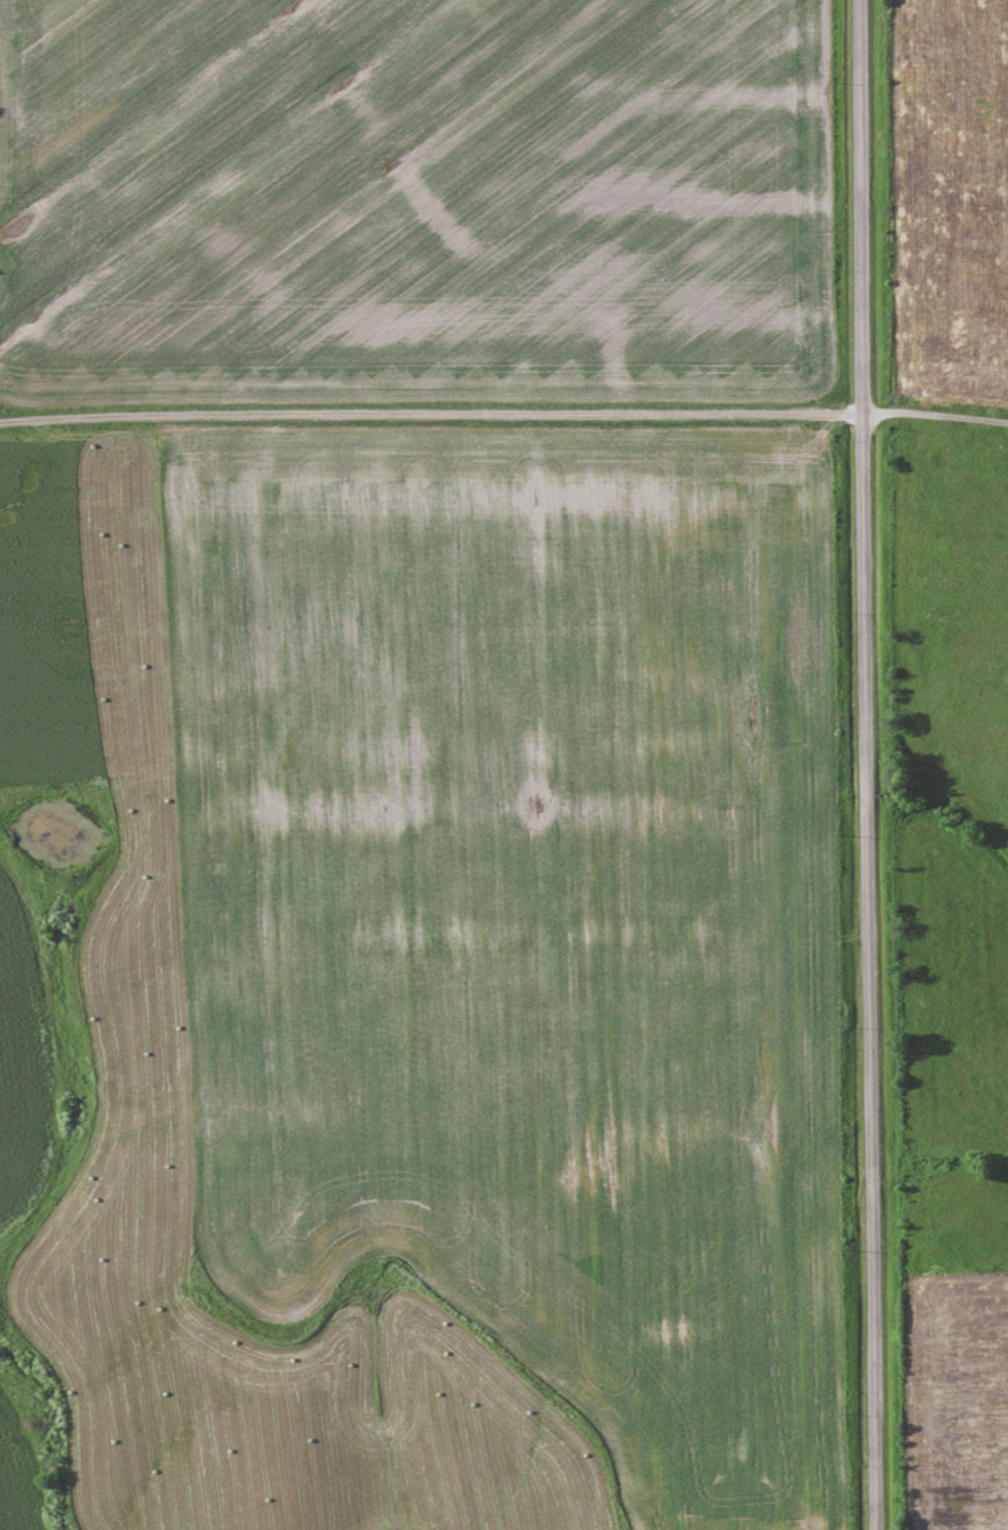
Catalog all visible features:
road: (430, 412)
road: (935, 413)
road: (863, 765)

